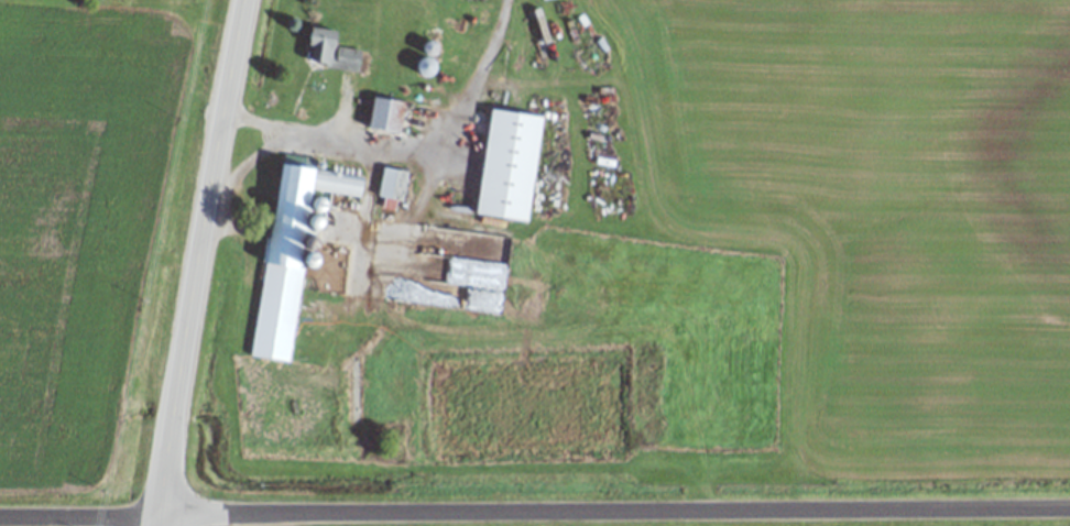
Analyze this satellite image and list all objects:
building: (331, 51)
building: (387, 114)
road: (414, 146)
road: (255, 156)
building: (511, 164)
building: (340, 183)
building: (393, 183)
road: (205, 263)
building: (276, 310)
road: (616, 517)
road: (81, 520)

